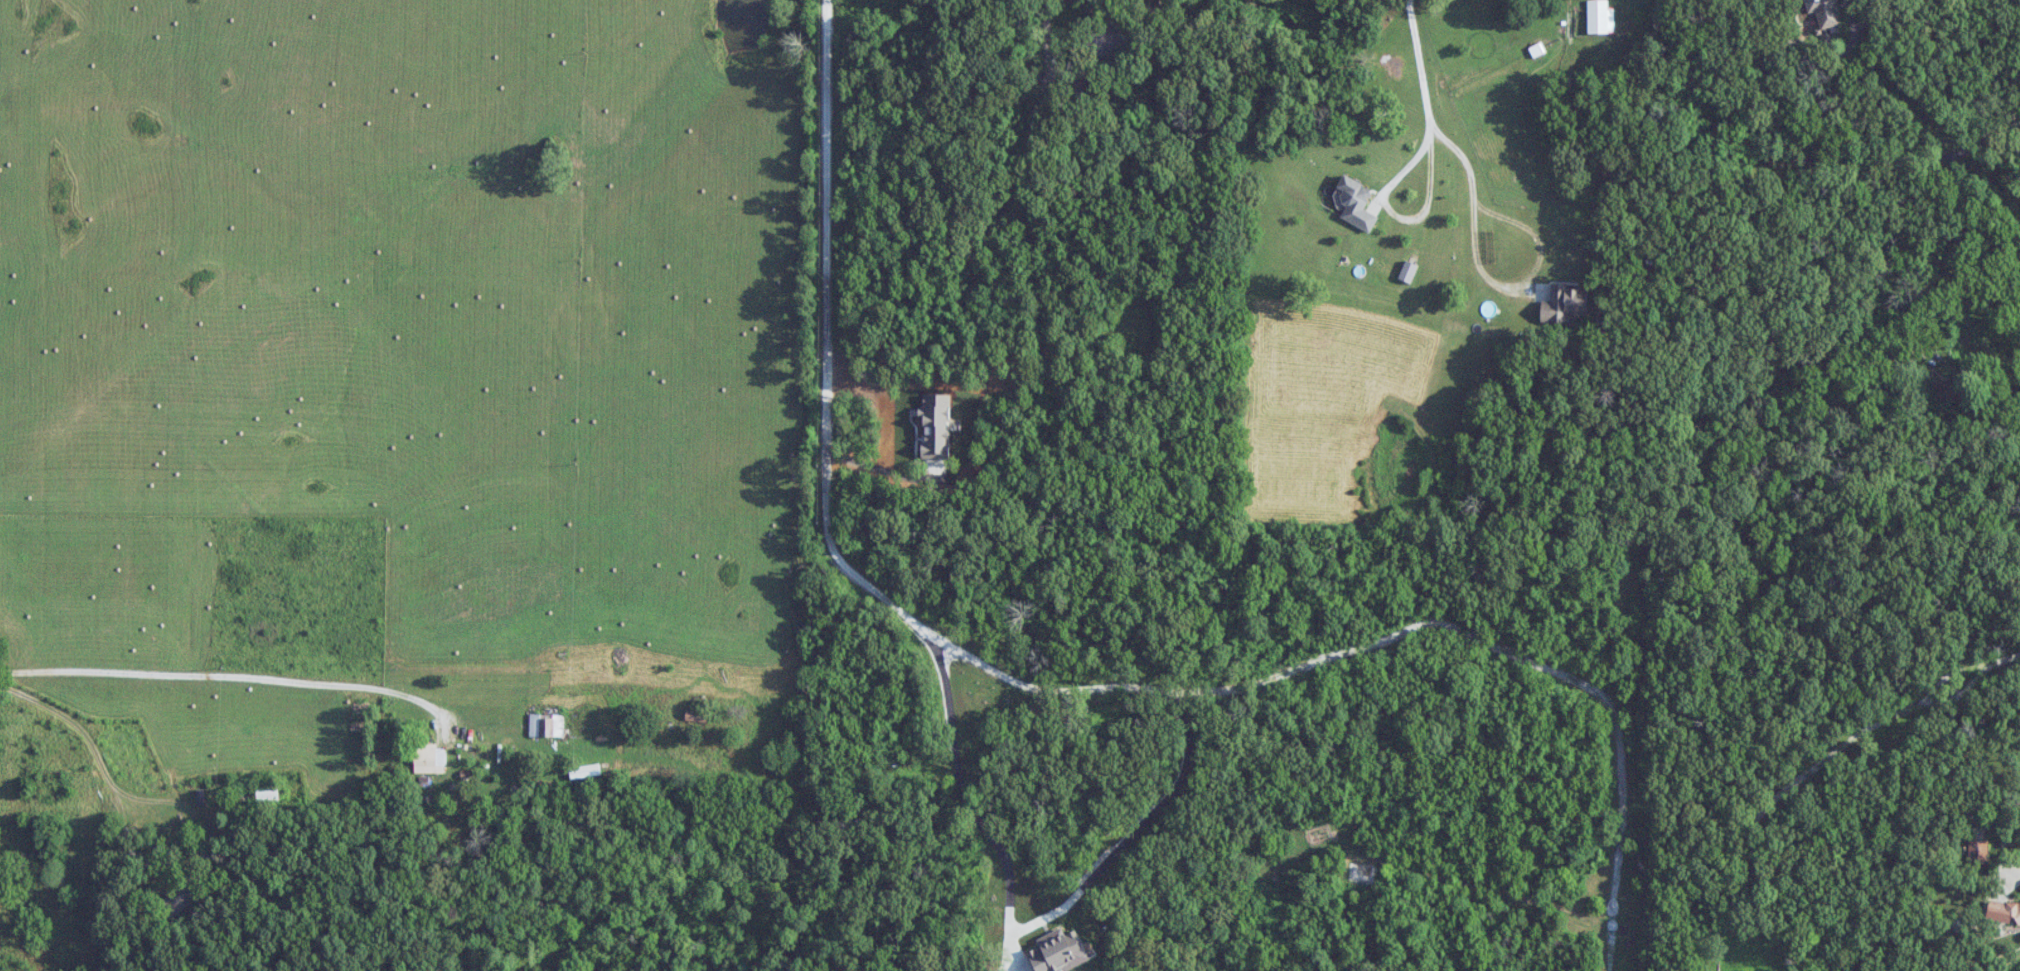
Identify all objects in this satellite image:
building: (1822, 11)
building: (1598, 17)
building: (1109, 44)
road: (1425, 110)
road: (1841, 156)
road: (1052, 175)
road: (1473, 216)
road: (1962, 291)
building: (1940, 385)
road: (245, 684)
road: (1051, 689)
building: (696, 715)
road: (73, 718)
building: (547, 726)
building: (429, 759)
building: (584, 771)
building: (267, 793)
road: (1998, 838)
building: (1978, 851)
road: (193, 856)
building: (181, 897)
building: (2003, 912)
road: (1012, 927)

